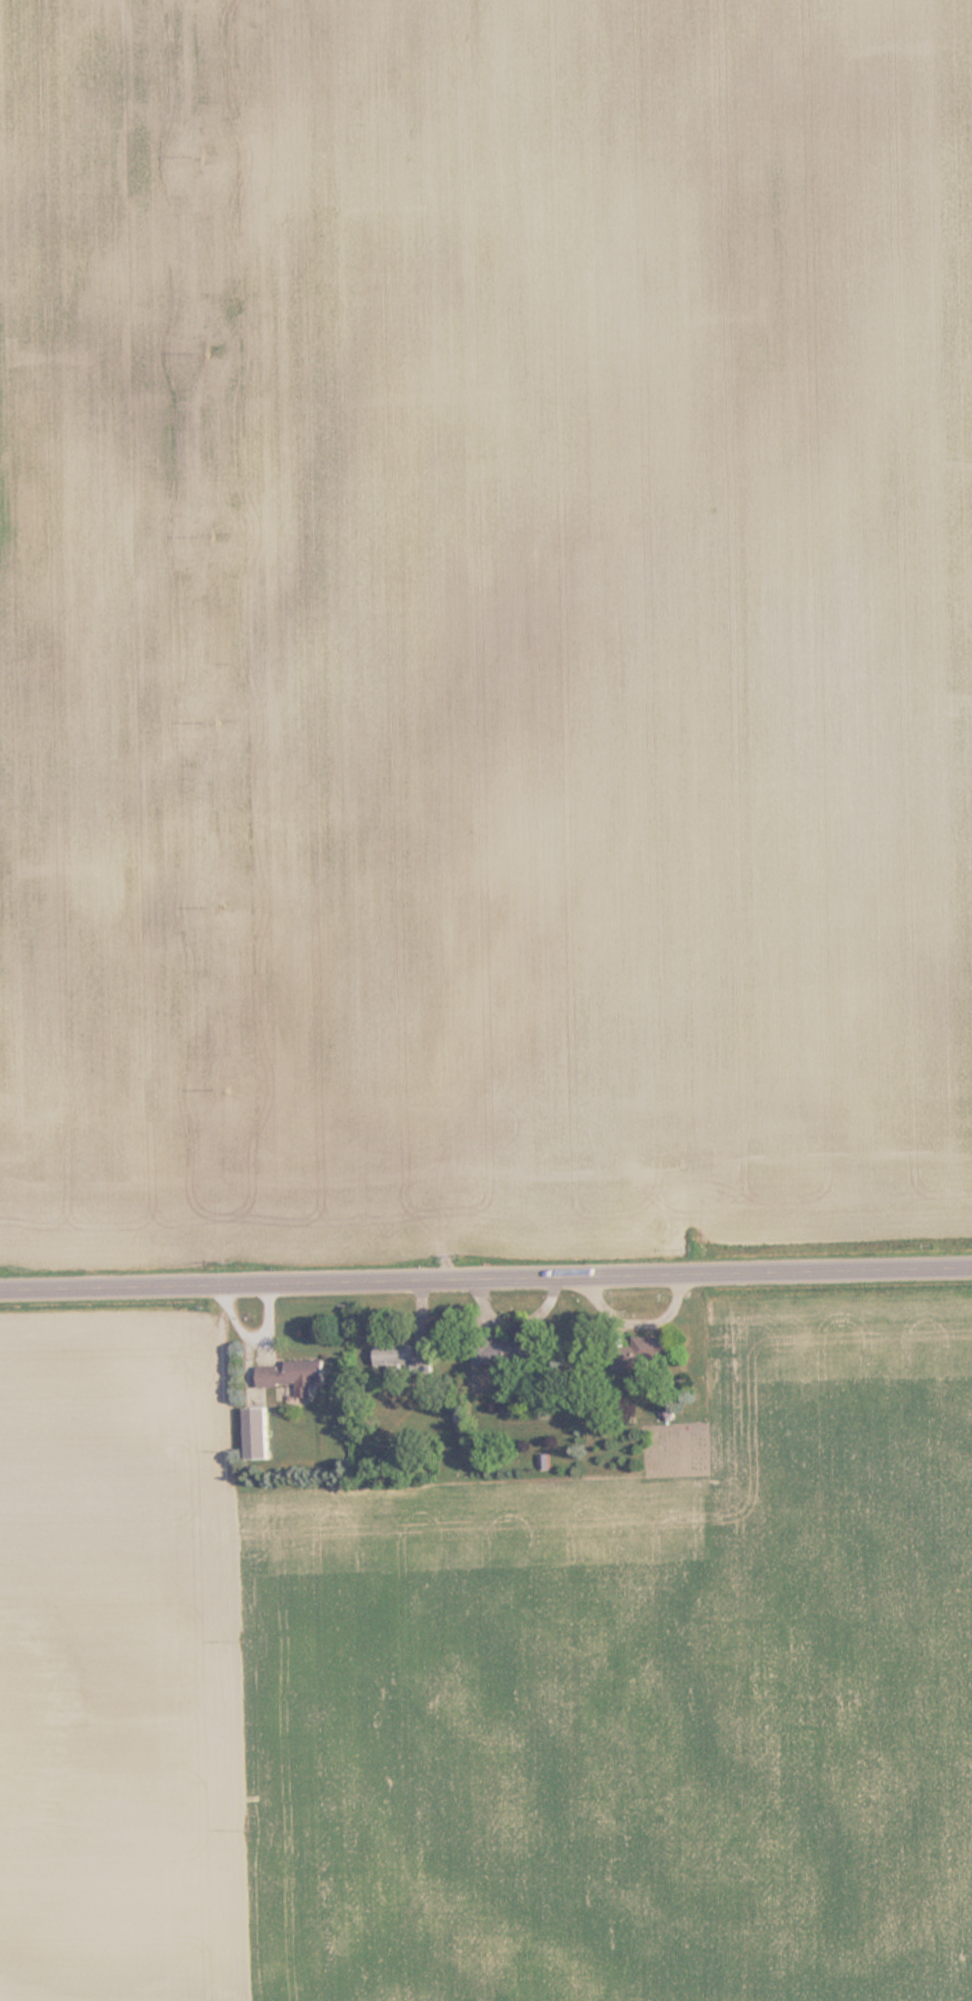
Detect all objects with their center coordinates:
road: (486, 1276)
building: (509, 1353)
building: (628, 1355)
building: (405, 1357)
building: (292, 1375)
building: (256, 1434)

